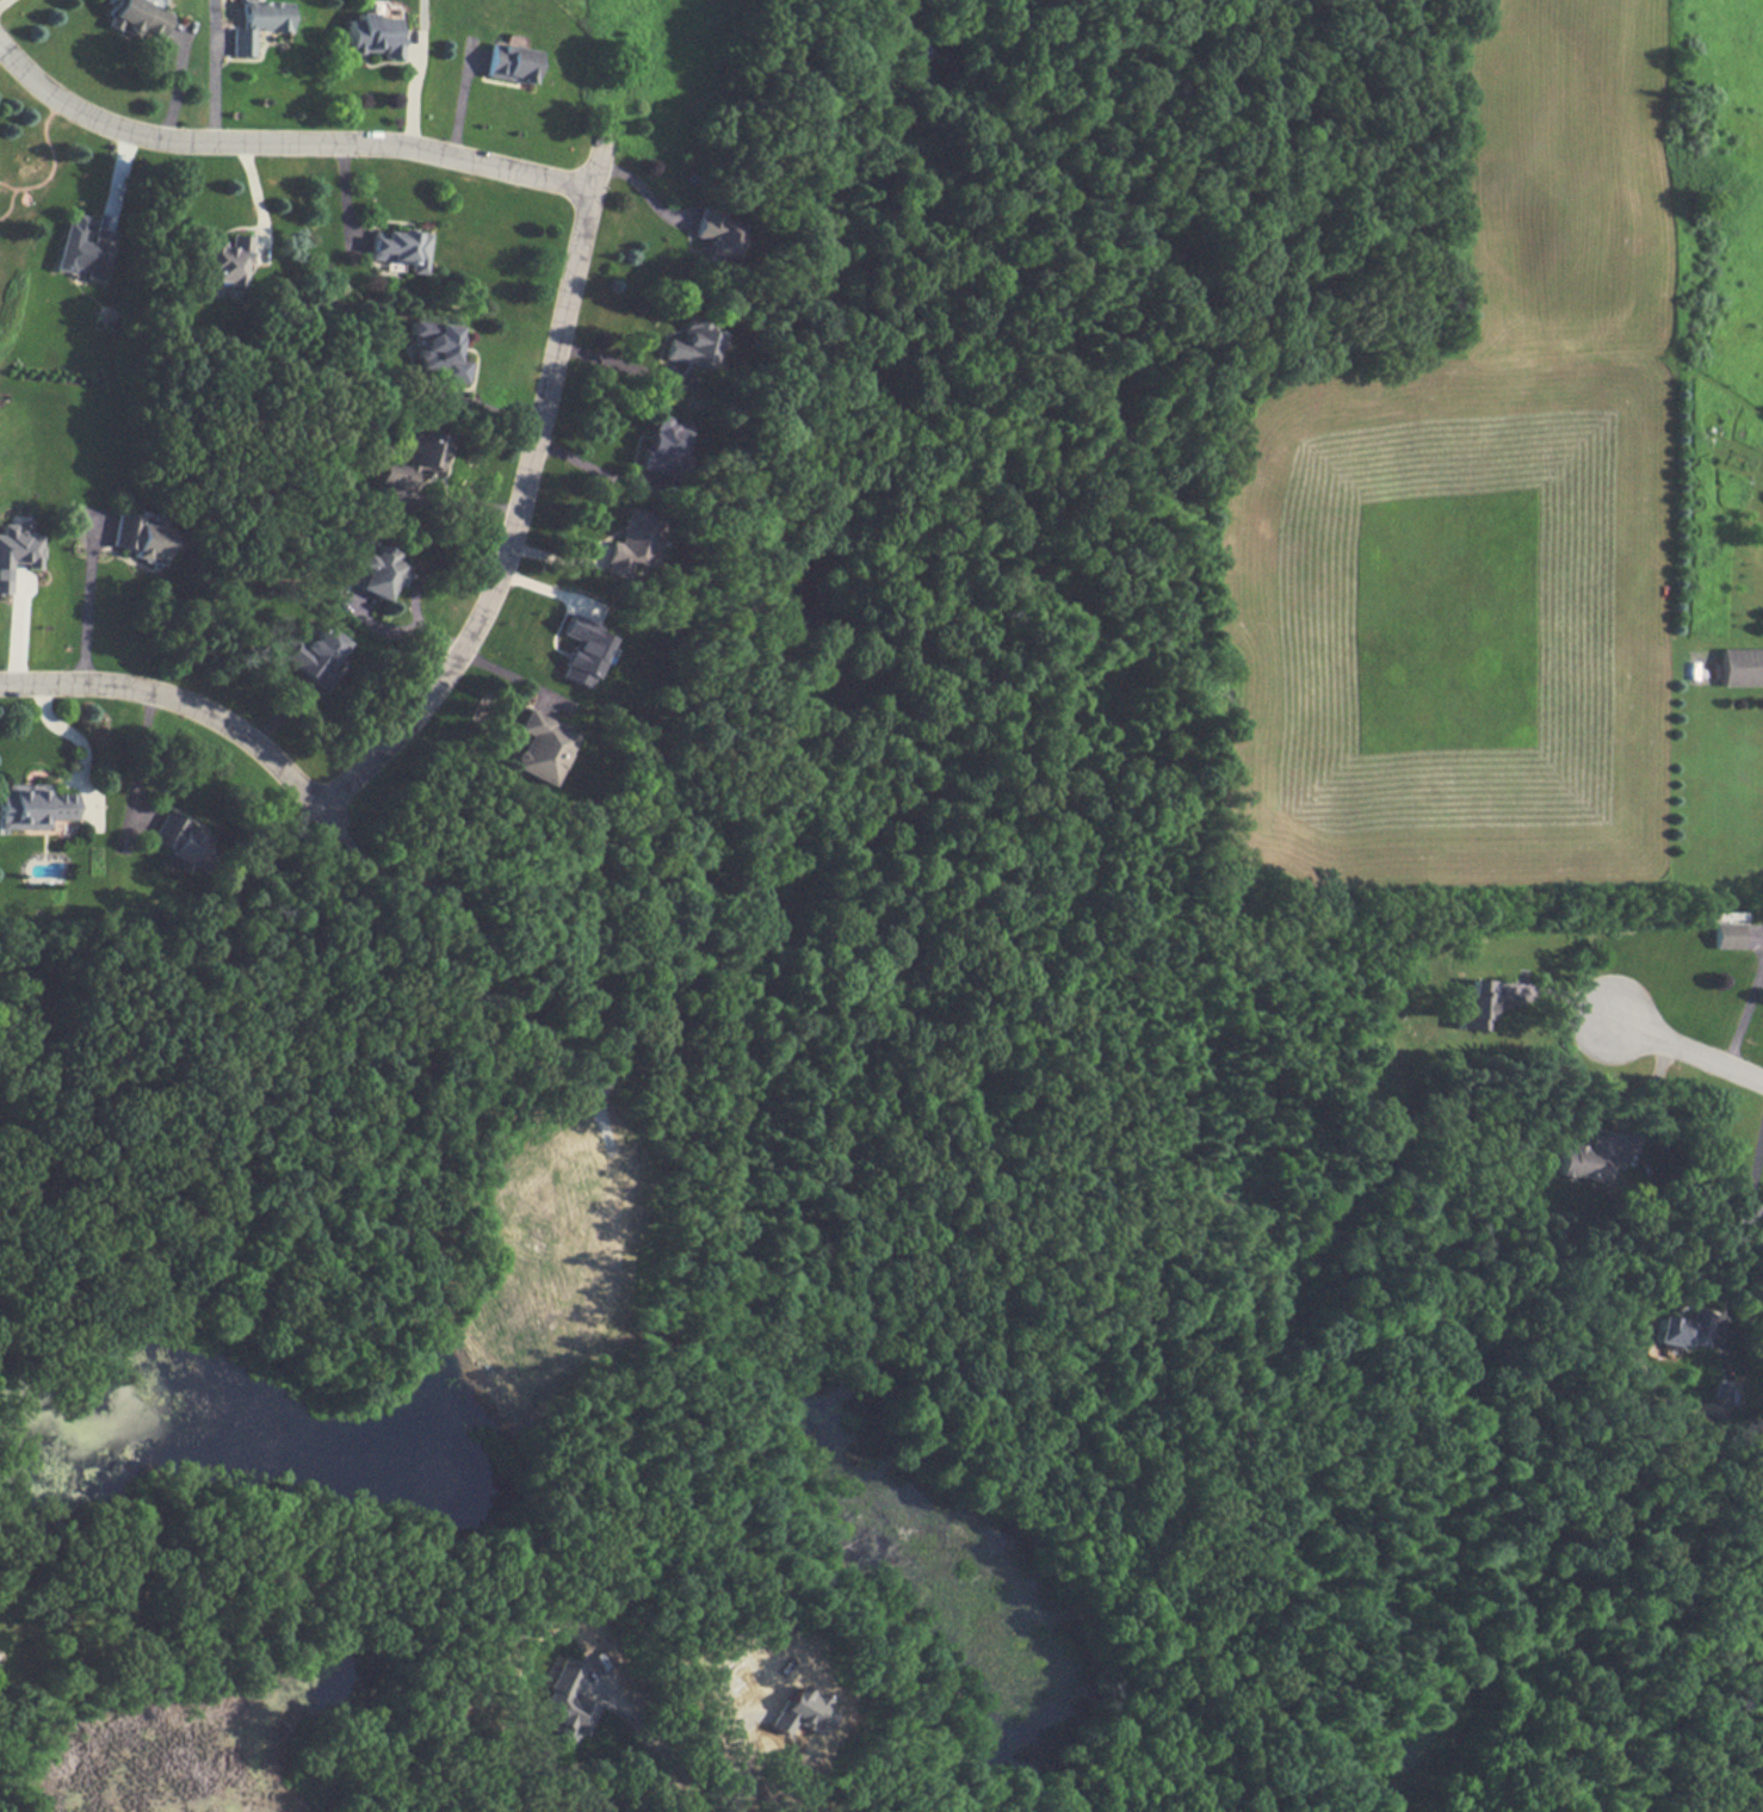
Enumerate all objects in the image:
building: (138, 17)
building: (372, 35)
building: (508, 62)
road: (412, 72)
road: (283, 142)
road: (258, 203)
road: (638, 204)
building: (713, 234)
building: (400, 248)
building: (222, 260)
building: (437, 352)
building: (660, 445)
building: (416, 459)
road: (598, 474)
road: (522, 499)
building: (142, 537)
building: (630, 543)
building: (17, 550)
building: (379, 571)
road: (419, 583)
road: (86, 610)
building: (583, 649)
building: (313, 654)
building: (1740, 667)
road: (192, 705)
road: (69, 736)
building: (539, 747)
road: (140, 752)
building: (33, 805)
building: (179, 840)
building: (1724, 934)
building: (1472, 1003)
road: (1746, 1013)
road: (1685, 1046)
road: (1648, 1099)
road: (1744, 1226)
building: (1718, 1323)
building: (1682, 1329)
building: (565, 1700)
building: (799, 1711)

